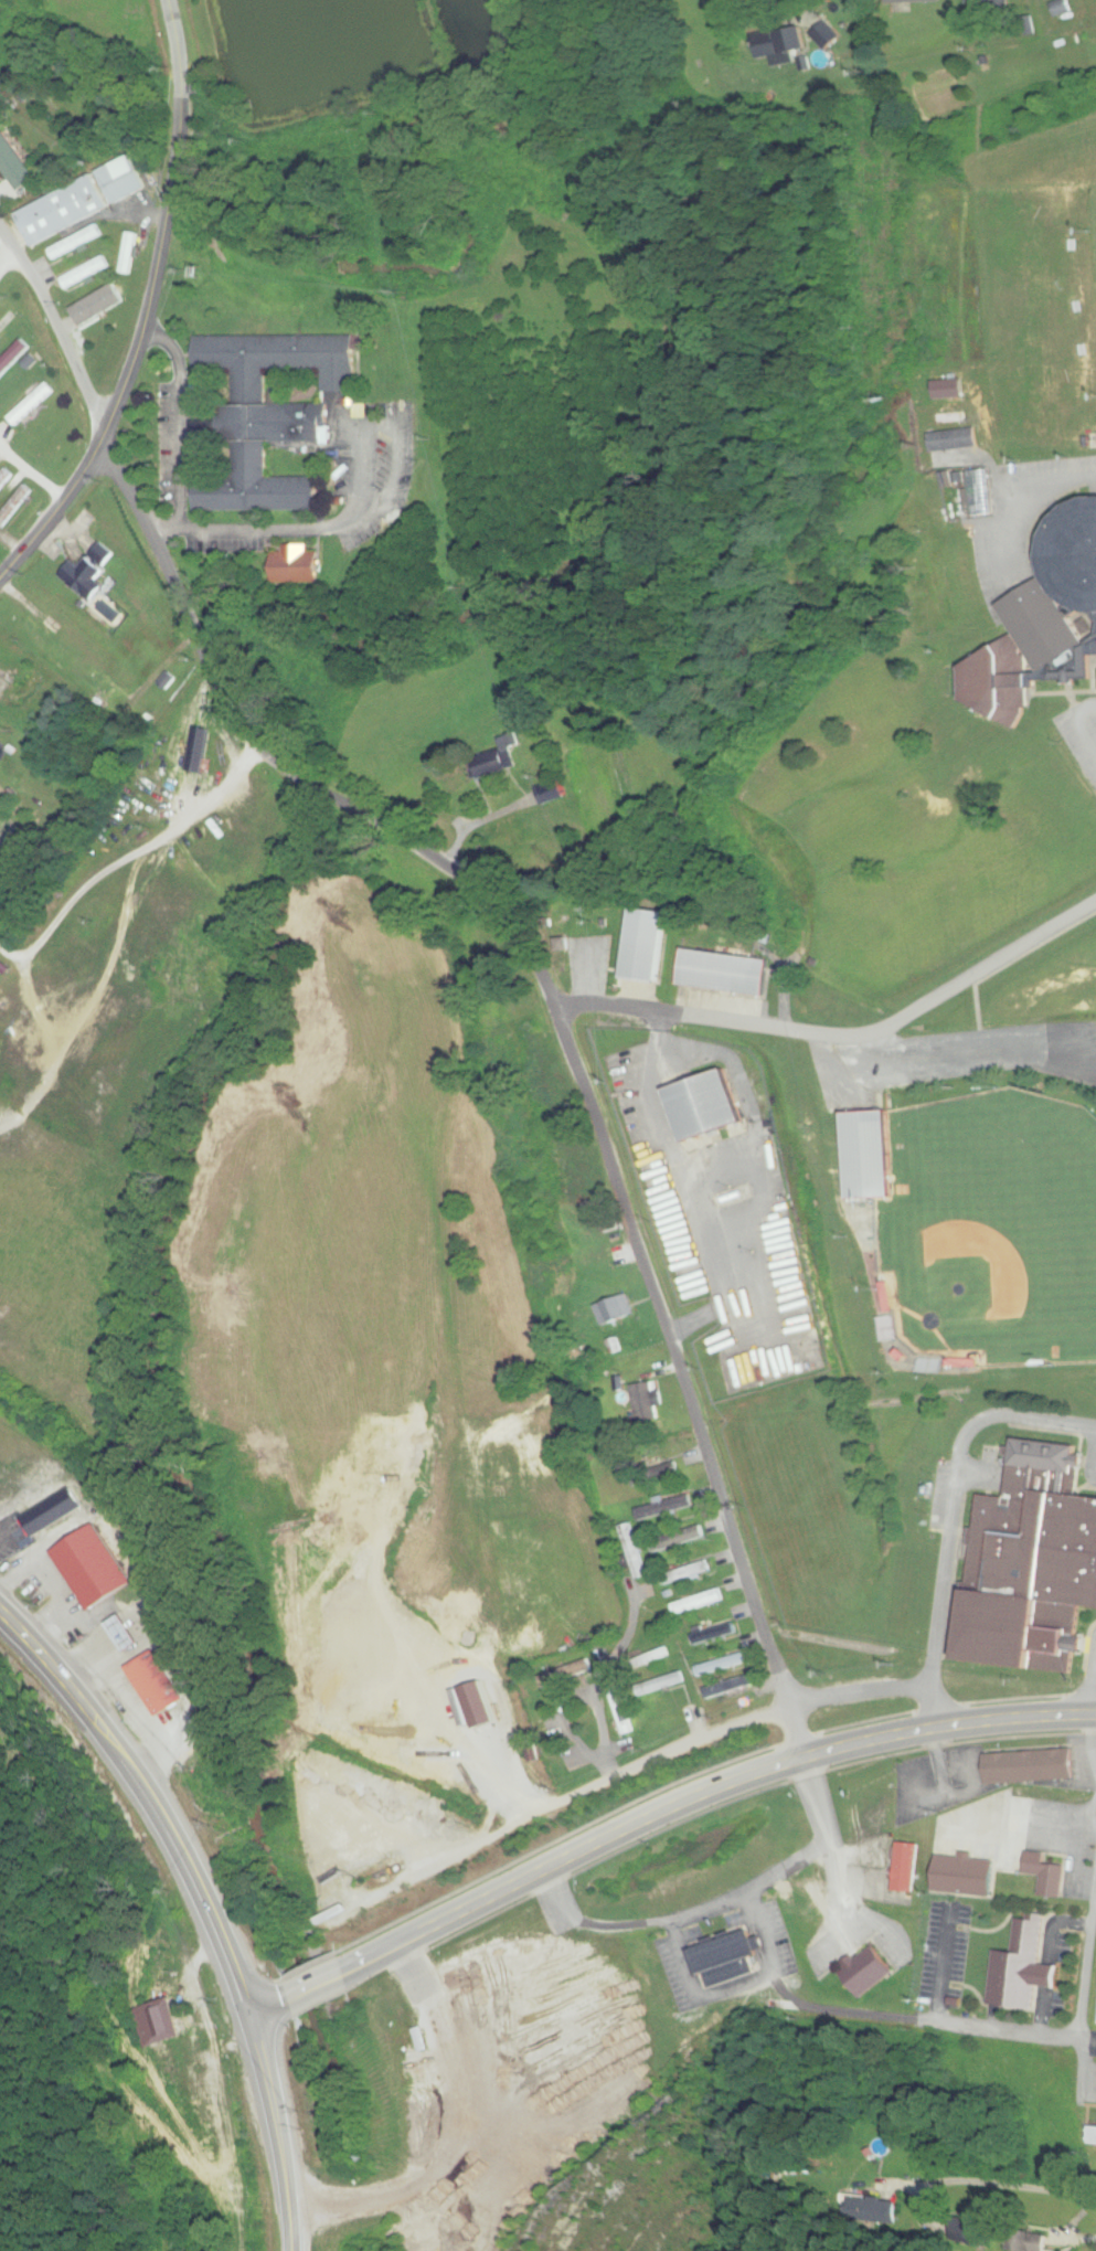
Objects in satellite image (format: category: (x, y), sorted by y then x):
building: (912, 1)
building: (1060, 8)
road: (178, 33)
building: (824, 35)
building: (776, 46)
building: (13, 164)
building: (121, 180)
building: (63, 211)
building: (76, 243)
building: (128, 253)
road: (159, 255)
building: (85, 273)
building: (99, 300)
building: (7, 320)
building: (13, 357)
building: (283, 357)
building: (31, 404)
building: (950, 414)
building: (953, 439)
building: (262, 459)
road: (34, 461)
building: (4, 476)
building: (978, 492)
building: (14, 505)
road: (1034, 506)
road: (56, 510)
building: (1072, 554)
building: (297, 565)
building: (89, 573)
road: (1, 575)
building: (1043, 624)
building: (46, 636)
building: (94, 679)
building: (994, 683)
building: (25, 691)
road: (1078, 723)
building: (199, 750)
building: (491, 764)
road: (491, 903)
building: (643, 946)
building: (722, 976)
road: (978, 1008)
road: (980, 1033)
road: (840, 1036)
road: (856, 1042)
road: (1060, 1055)
building: (706, 1108)
building: (866, 1159)
park: (1007, 1208)
stadium: (991, 1231)
building: (613, 1310)
building: (643, 1403)
building: (662, 1466)
road: (1094, 1466)
road: (977, 1476)
road: (953, 1491)
building: (664, 1508)
building: (632, 1552)
building: (1030, 1563)
building: (93, 1568)
building: (684, 1573)
building: (698, 1602)
building: (711, 1633)
building: (655, 1657)
building: (721, 1664)
building: (566, 1671)
building: (664, 1681)
building: (728, 1687)
road: (1093, 1692)
road: (858, 1693)
road: (594, 1703)
road: (932, 1707)
building: (621, 1710)
building: (547, 1732)
road: (796, 1733)
road: (1092, 1739)
road: (652, 1762)
road: (941, 1763)
building: (1029, 1765)
road: (604, 1773)
building: (500, 1775)
road: (946, 1798)
road: (657, 1816)
road: (831, 1839)
building: (905, 1867)
building: (1045, 1873)
road: (206, 1903)
road: (682, 1916)
building: (725, 1958)
road: (1047, 1958)
road: (945, 1966)
building: (1021, 1967)
building: (865, 1972)
road: (737, 1986)
road: (1084, 2002)
building: (160, 2021)
road: (1002, 2029)
road: (1089, 2039)
building: (1090, 2136)
road: (965, 2184)

